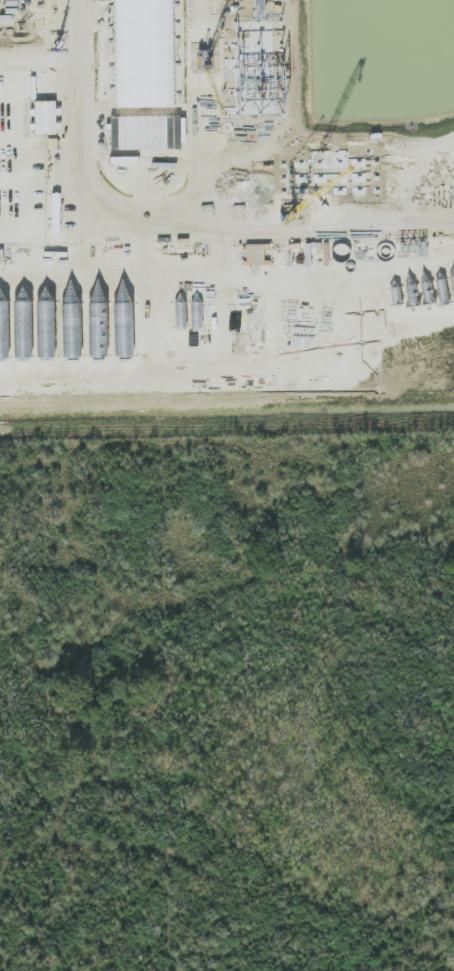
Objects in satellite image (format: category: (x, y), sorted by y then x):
road: (37, 59)
road: (73, 104)
building: (150, 132)
building: (114, 133)
road: (196, 172)

